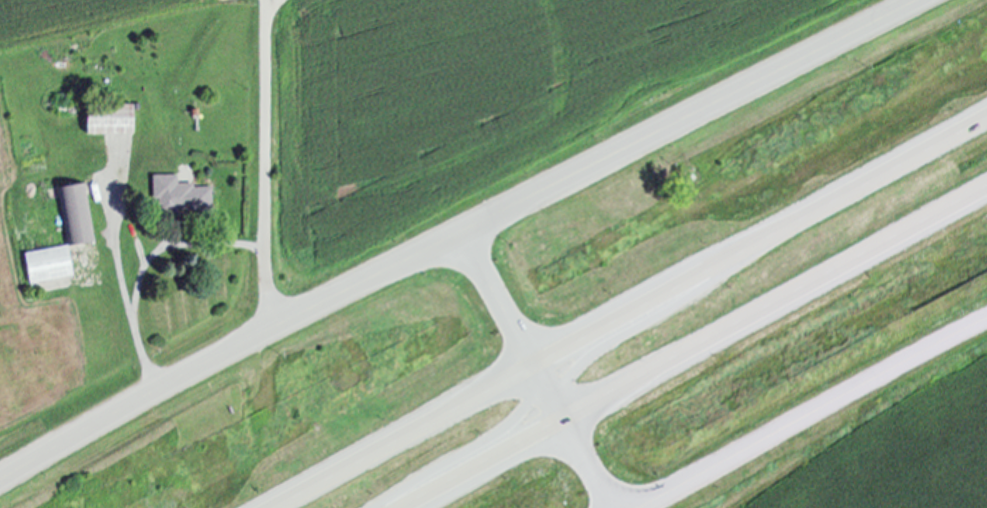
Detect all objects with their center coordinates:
building: (111, 119)
road: (267, 164)
building: (183, 194)
building: (77, 214)
road: (455, 234)
road: (120, 238)
building: (52, 263)
road: (148, 267)
road: (629, 312)
road: (658, 317)
road: (693, 350)
road: (537, 370)
road: (810, 414)
road: (474, 449)

